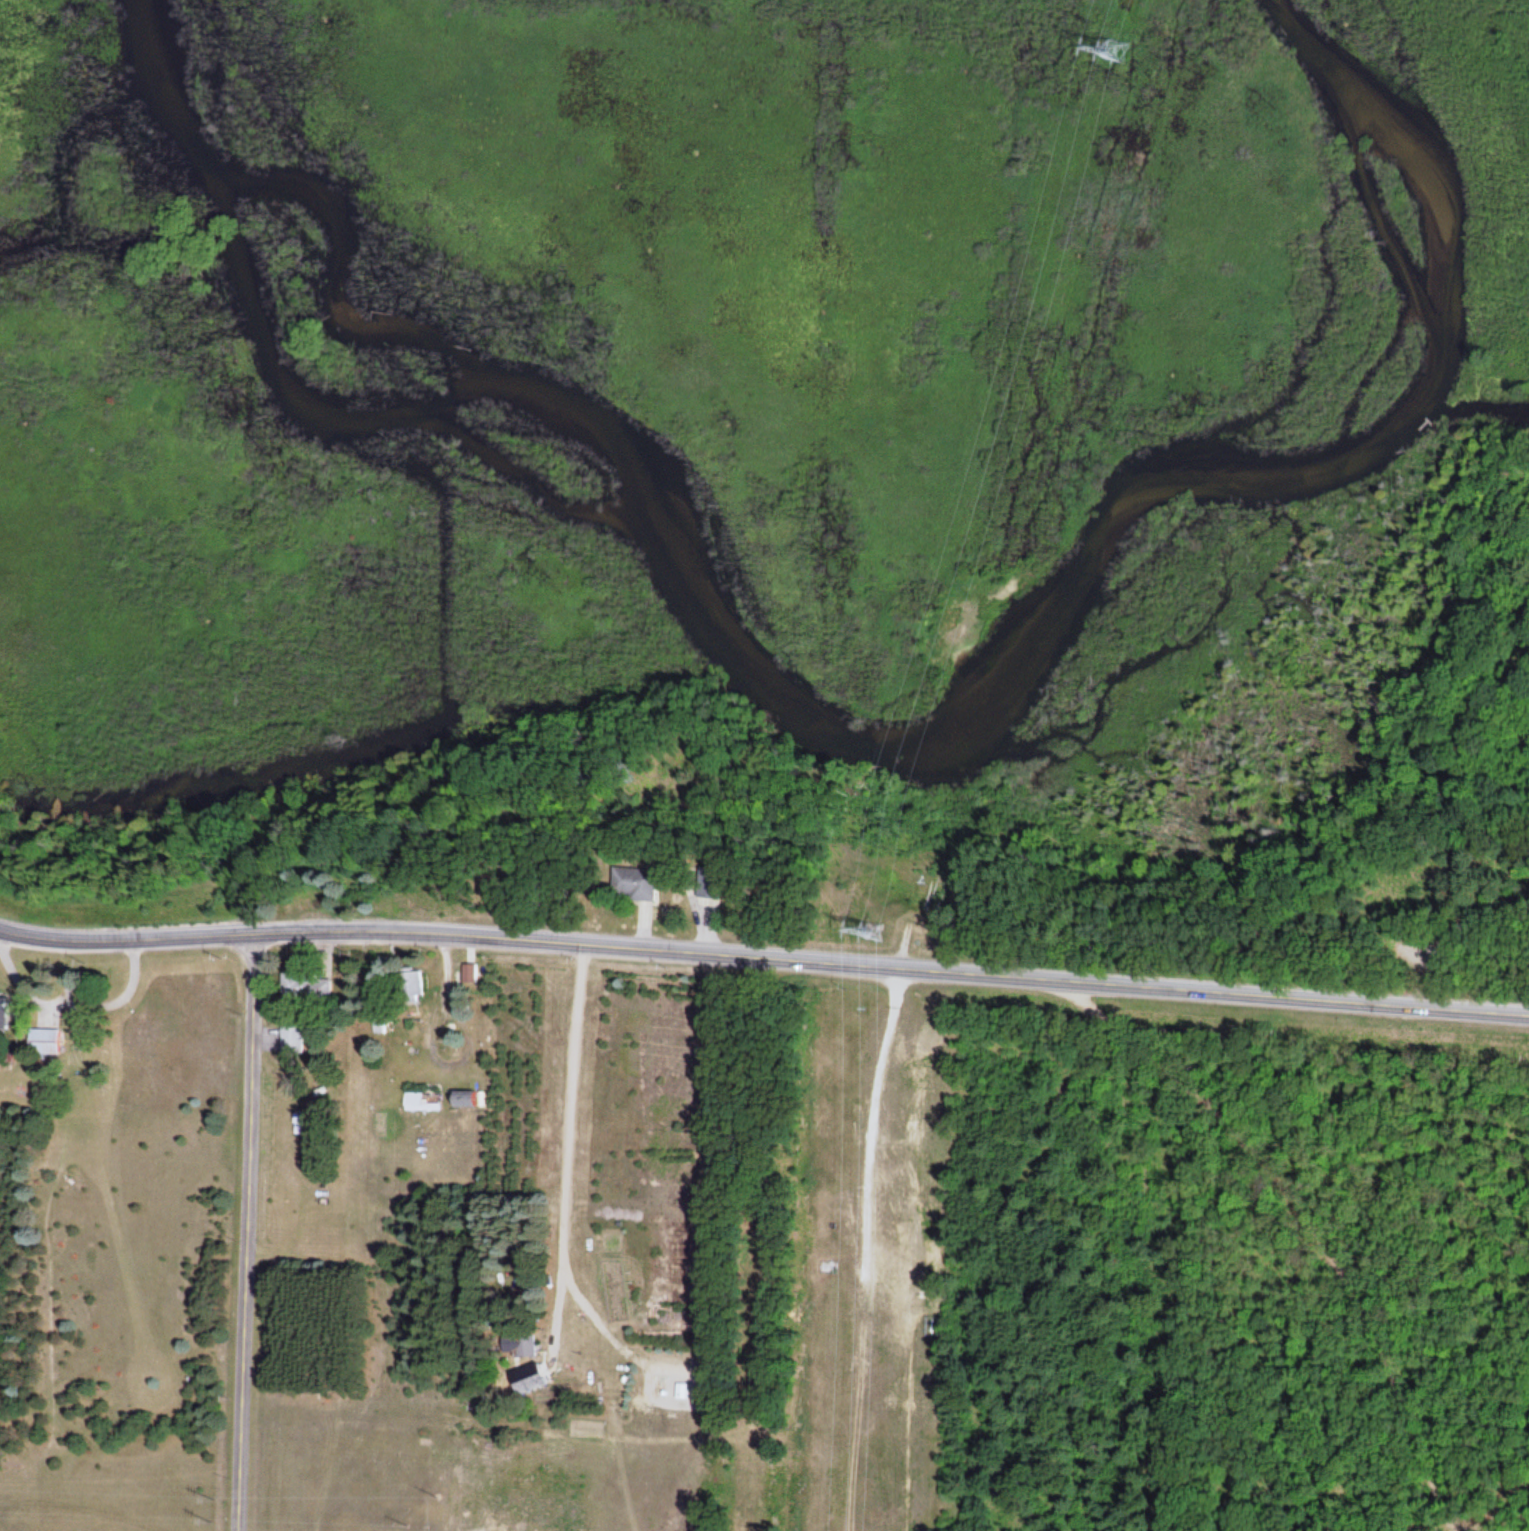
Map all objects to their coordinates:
power tower: (1113, 51)
river: (861, 739)
building: (707, 884)
building: (631, 885)
road: (1447, 931)
power tower: (875, 933)
road: (1415, 947)
road: (764, 957)
building: (468, 973)
building: (305, 988)
building: (409, 988)
building: (4, 1010)
building: (377, 1026)
building: (45, 1042)
building: (462, 1100)
building: (420, 1101)
road: (1303, 1217)
road: (246, 1232)
building: (520, 1346)
building: (681, 1392)

